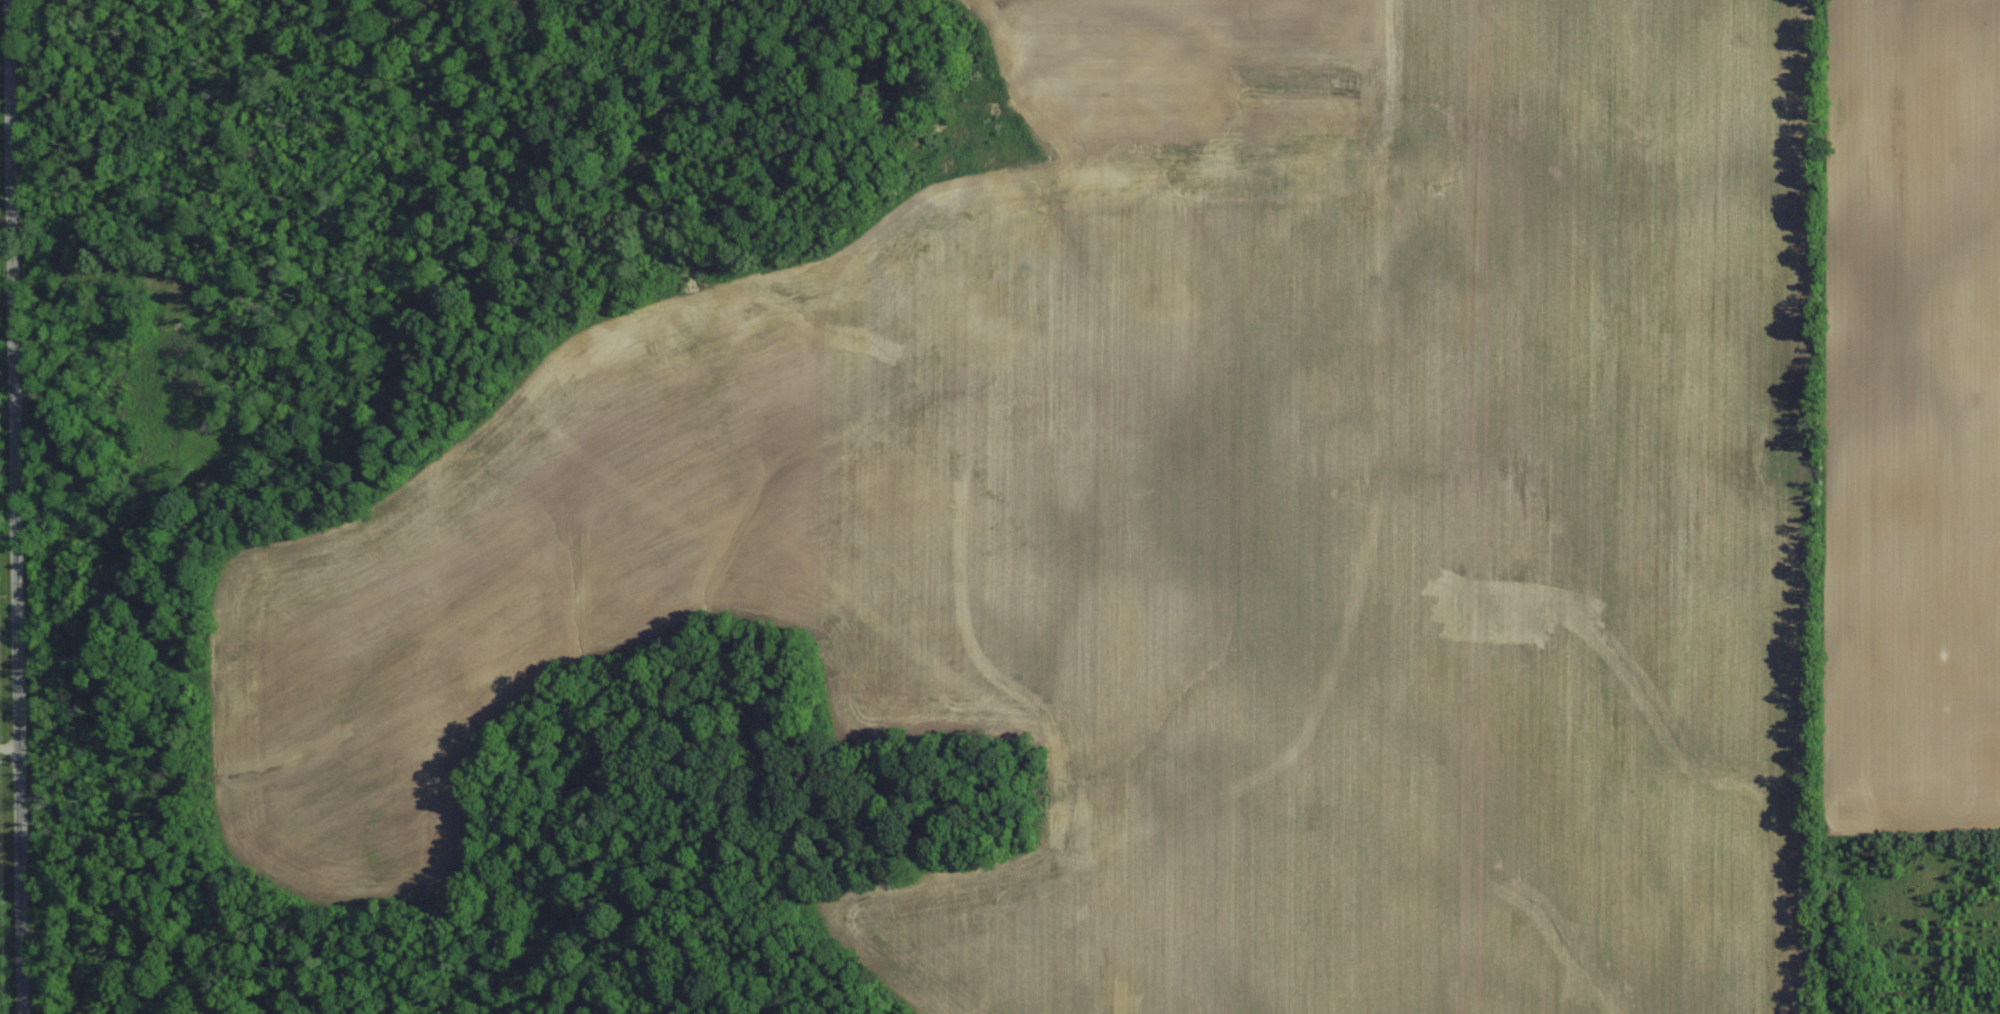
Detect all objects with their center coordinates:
road: (14, 507)
road: (9, 748)

